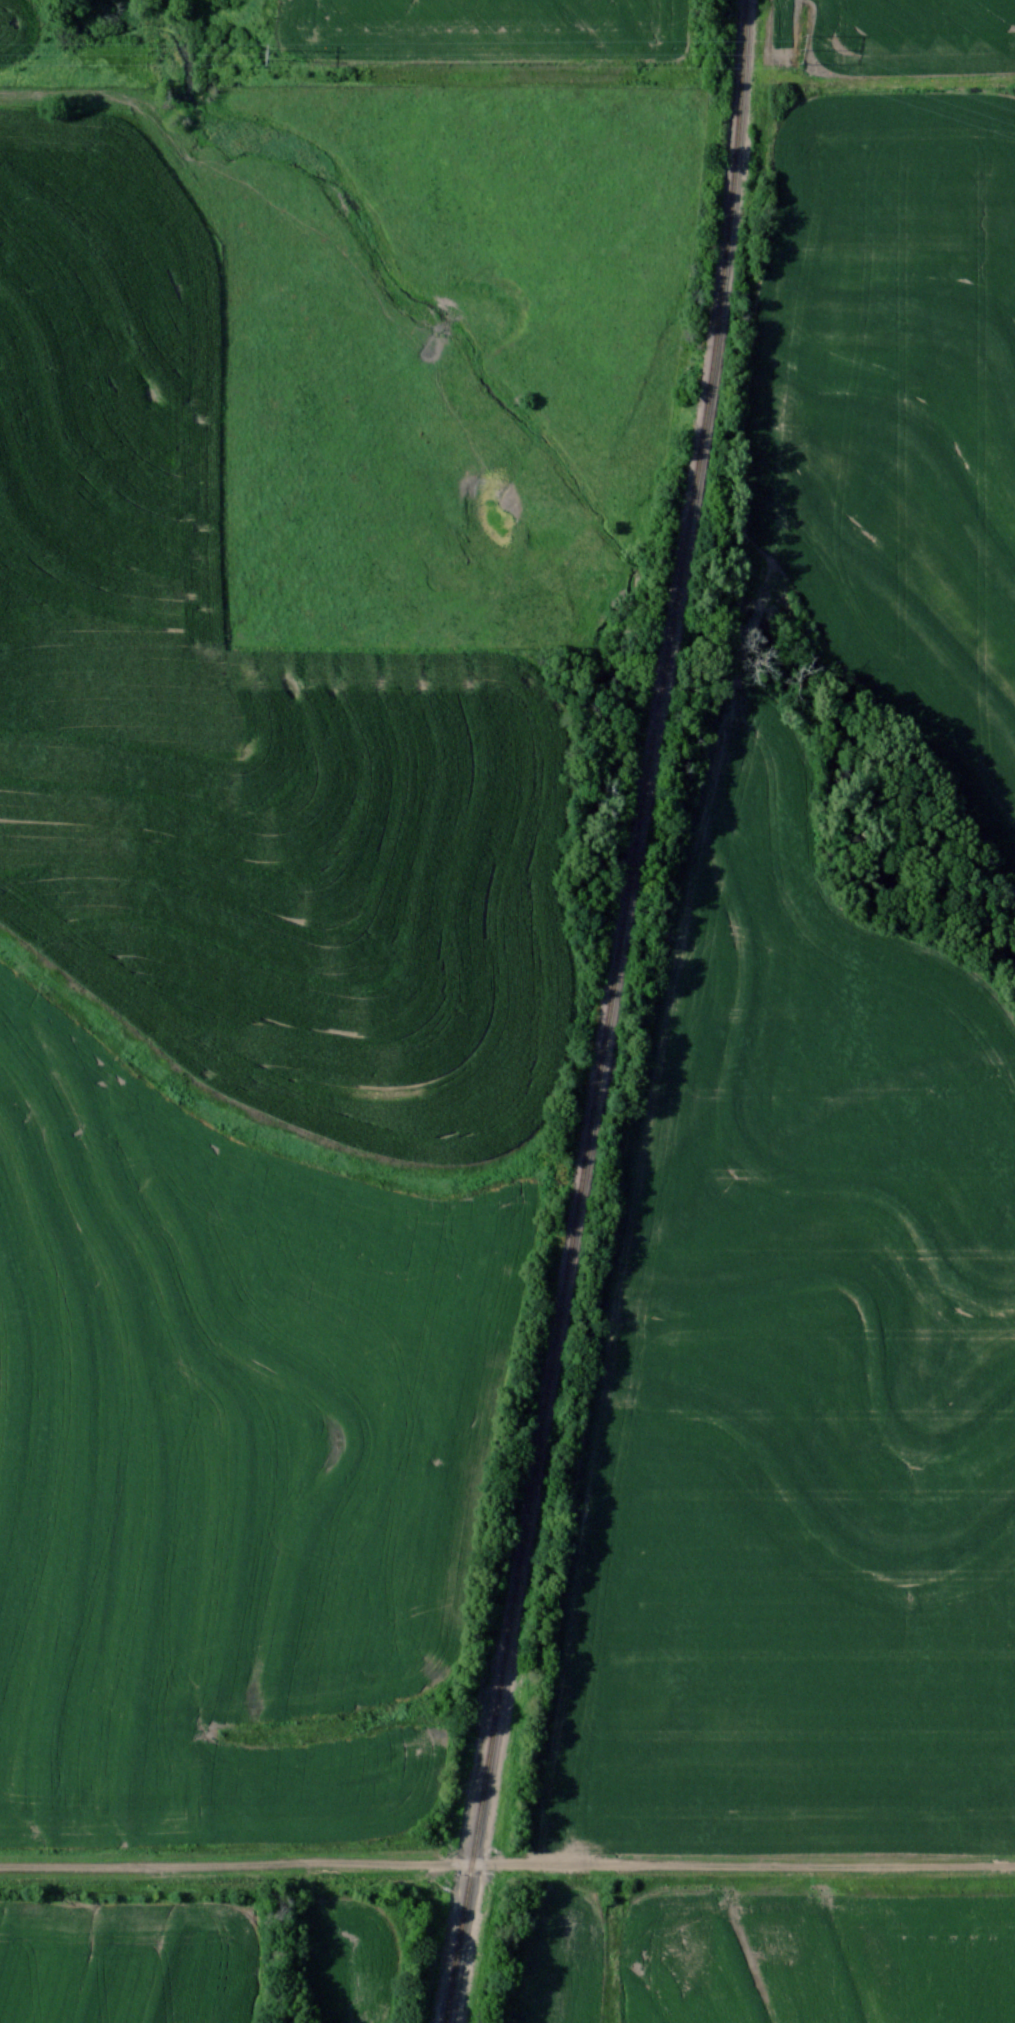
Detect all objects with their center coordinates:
power tower: (258, 54)
power tower: (801, 54)
railway: (609, 1013)
road: (507, 1864)

